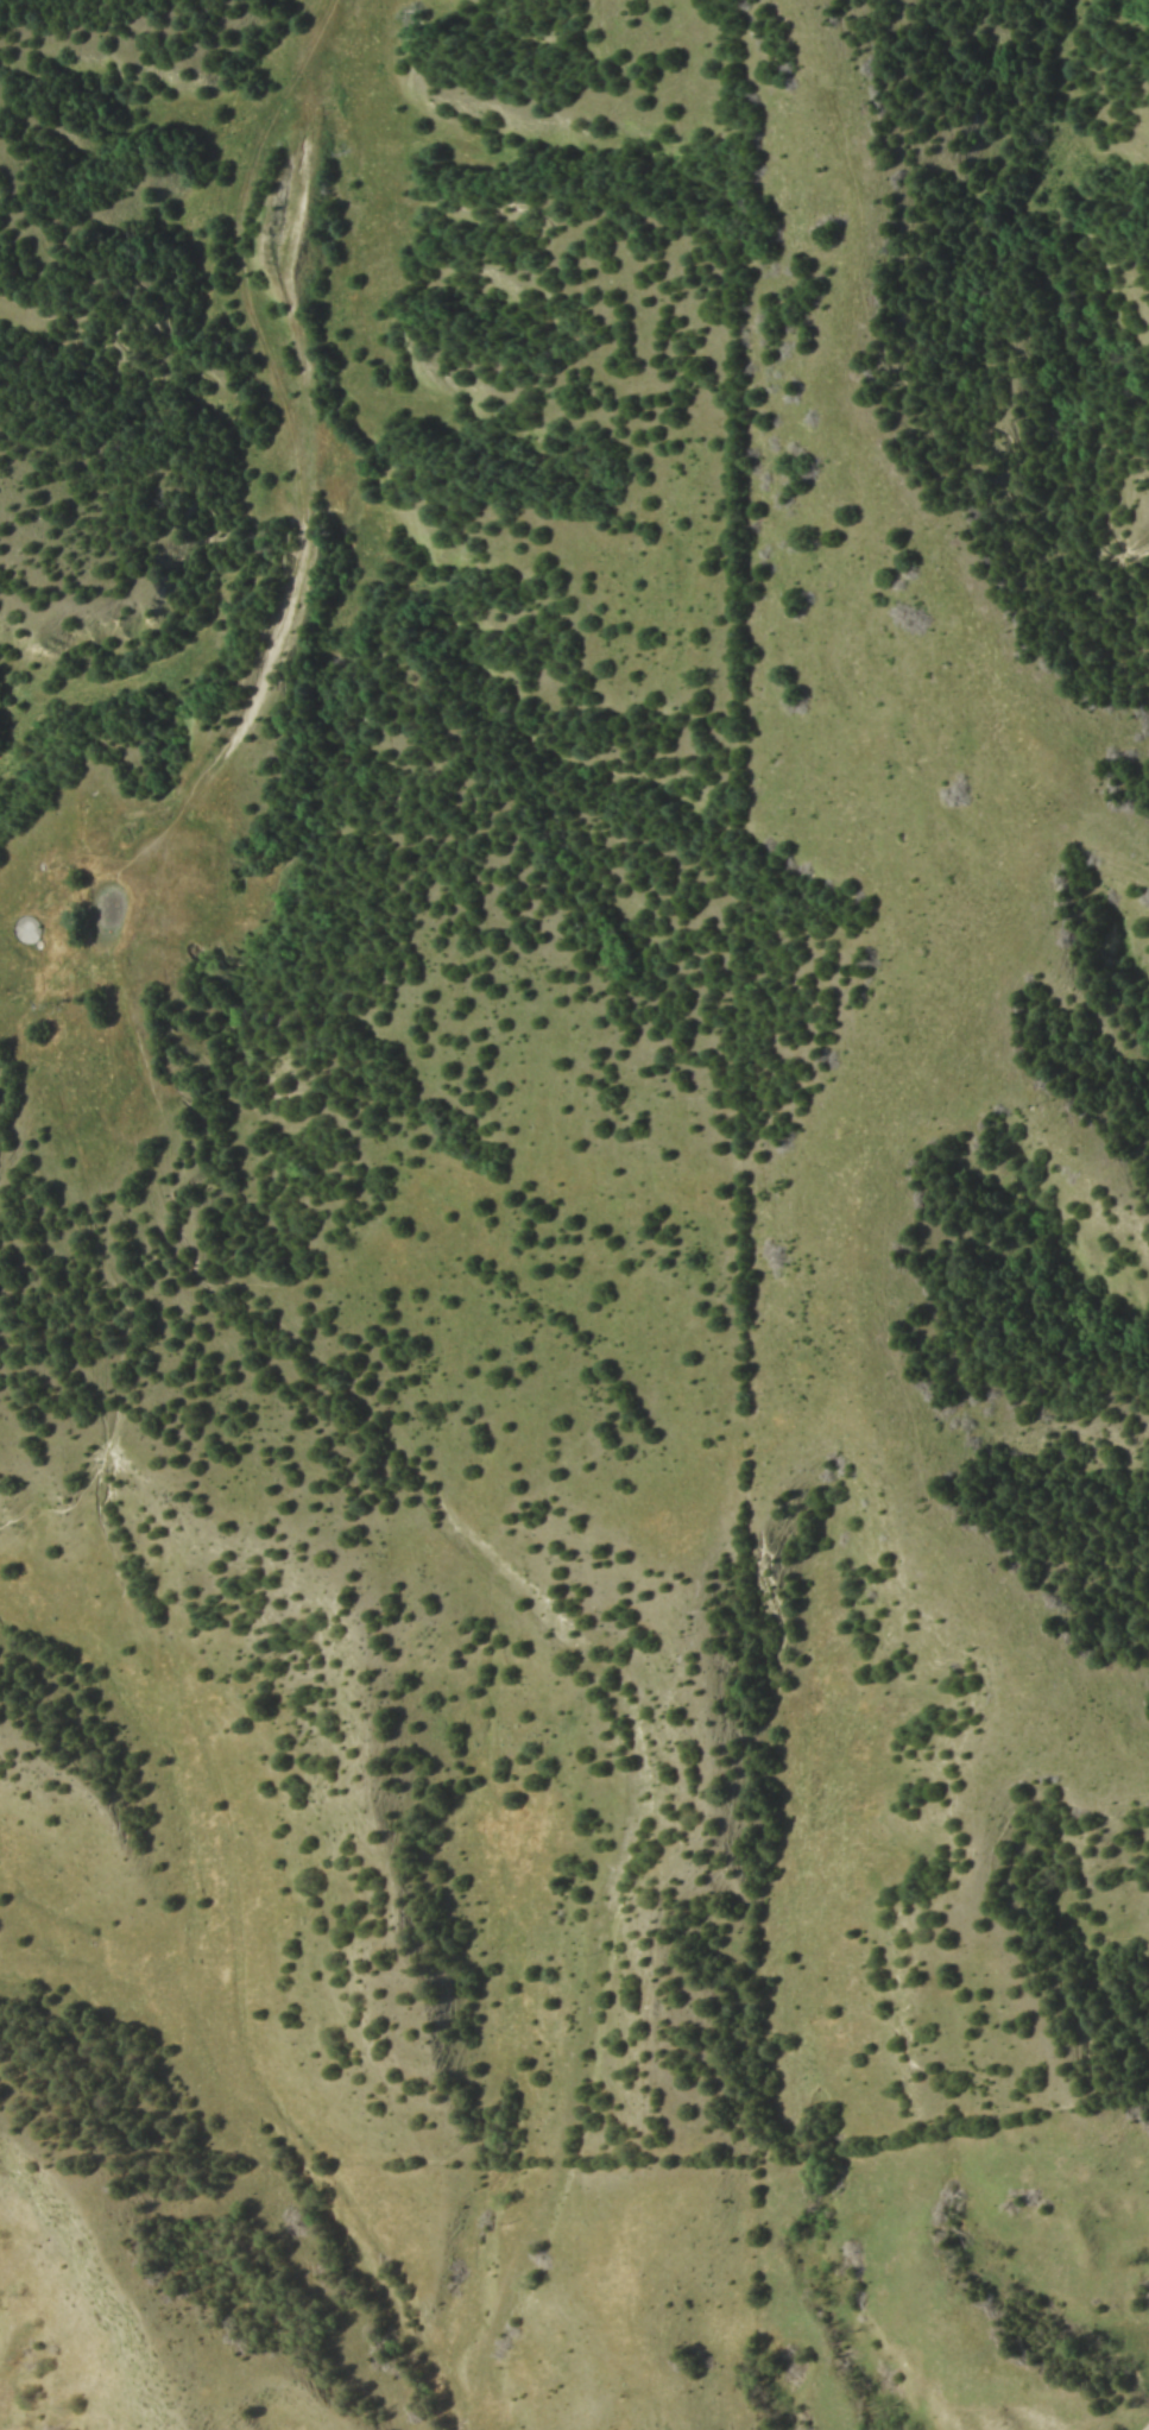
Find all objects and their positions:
road: (1143, 2425)

